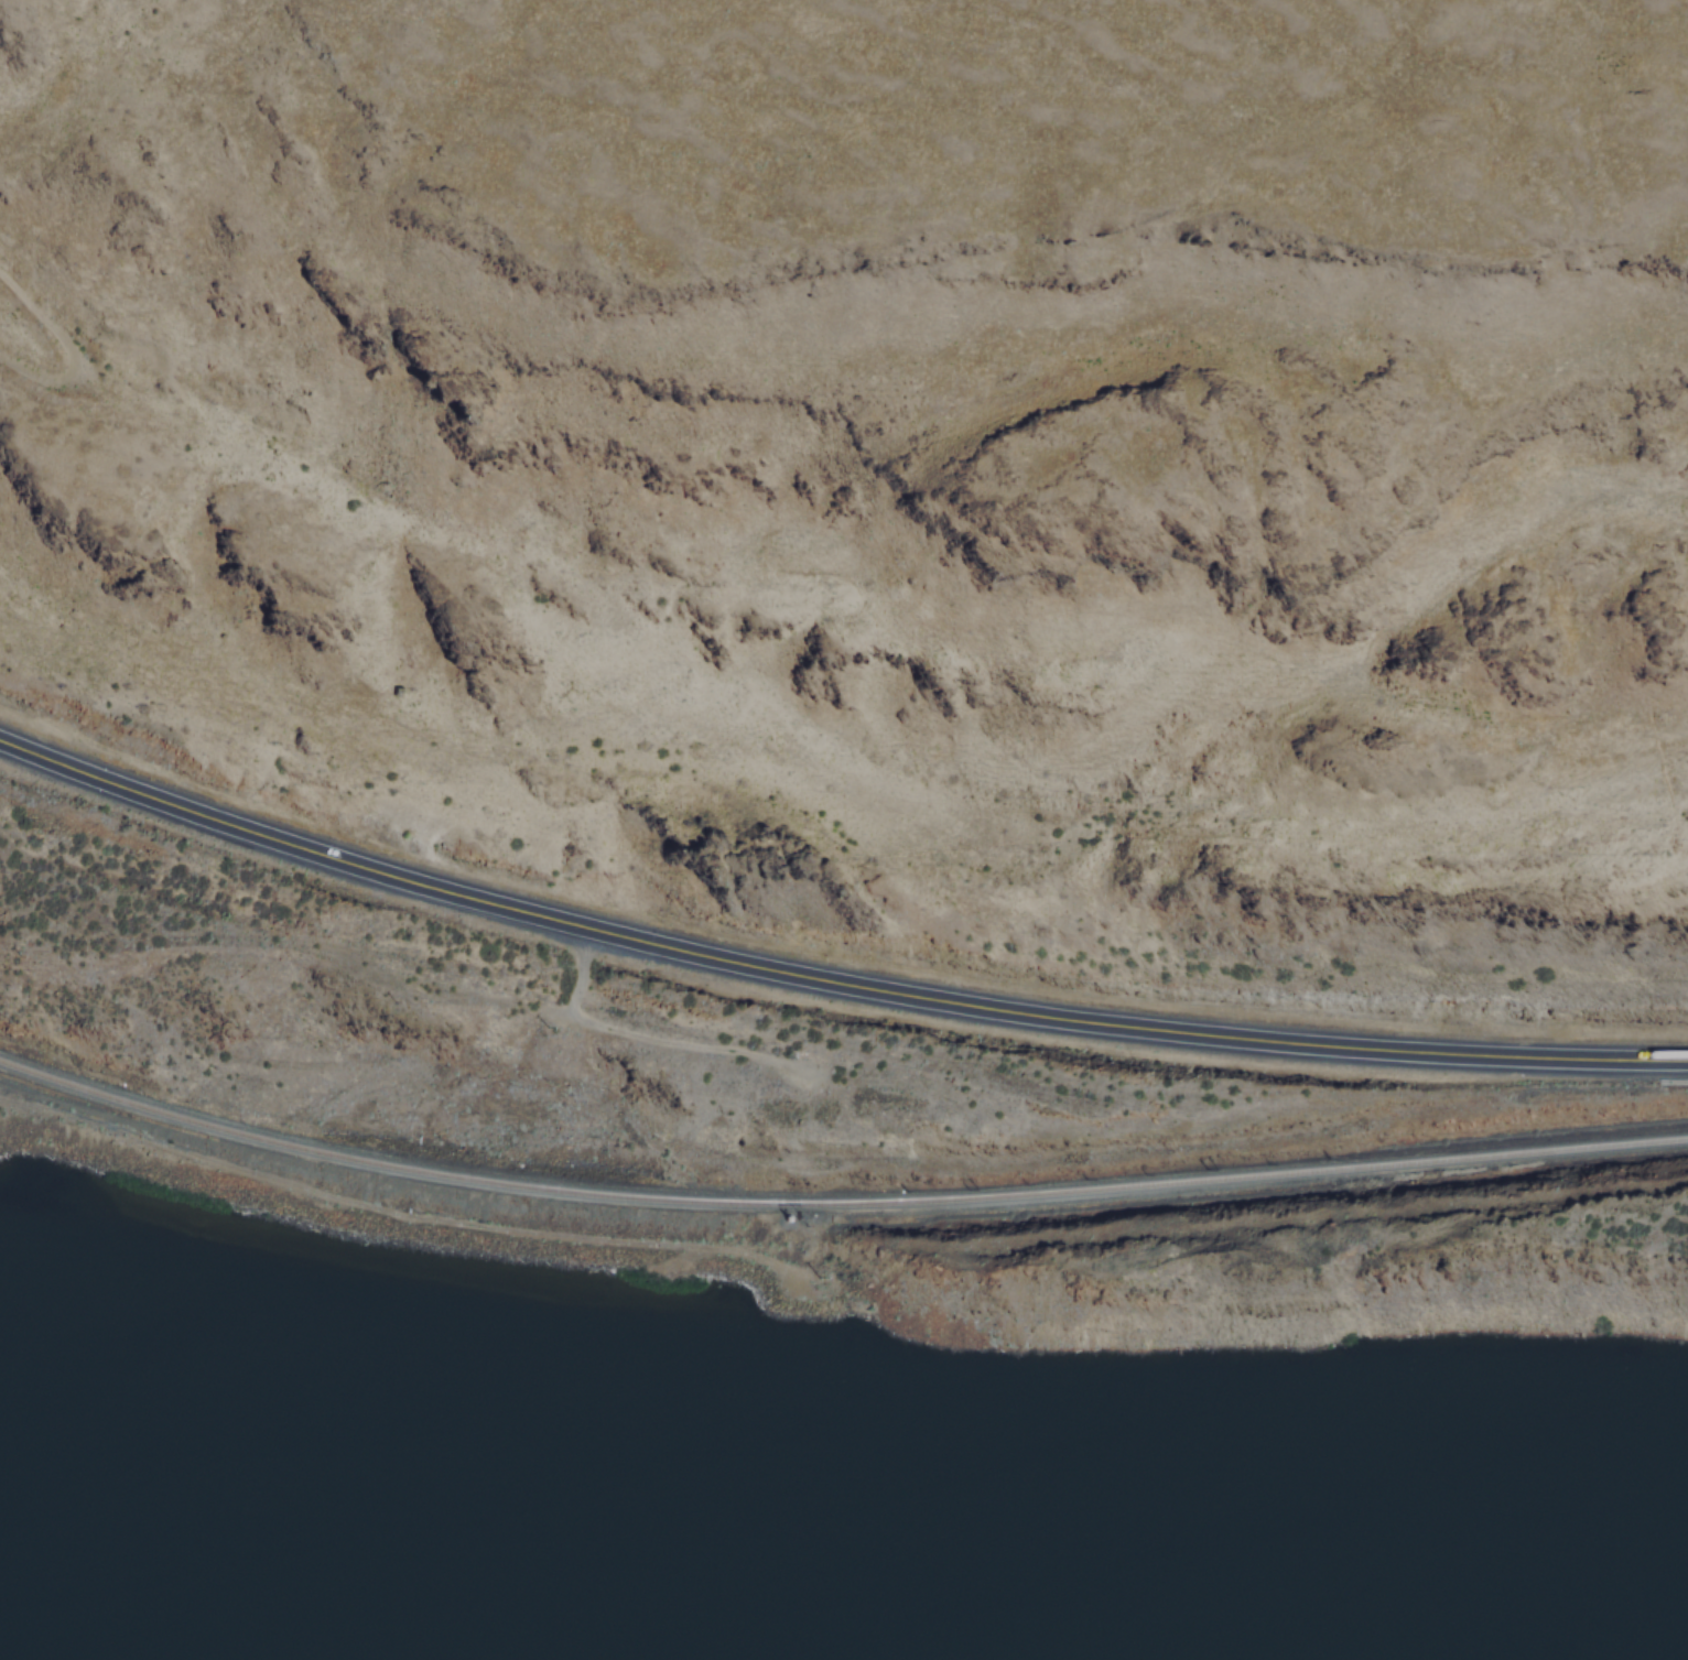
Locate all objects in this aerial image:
road: (71, 346)
road: (829, 983)
railway: (1397, 1163)
railway: (545, 1189)
road: (398, 1212)

